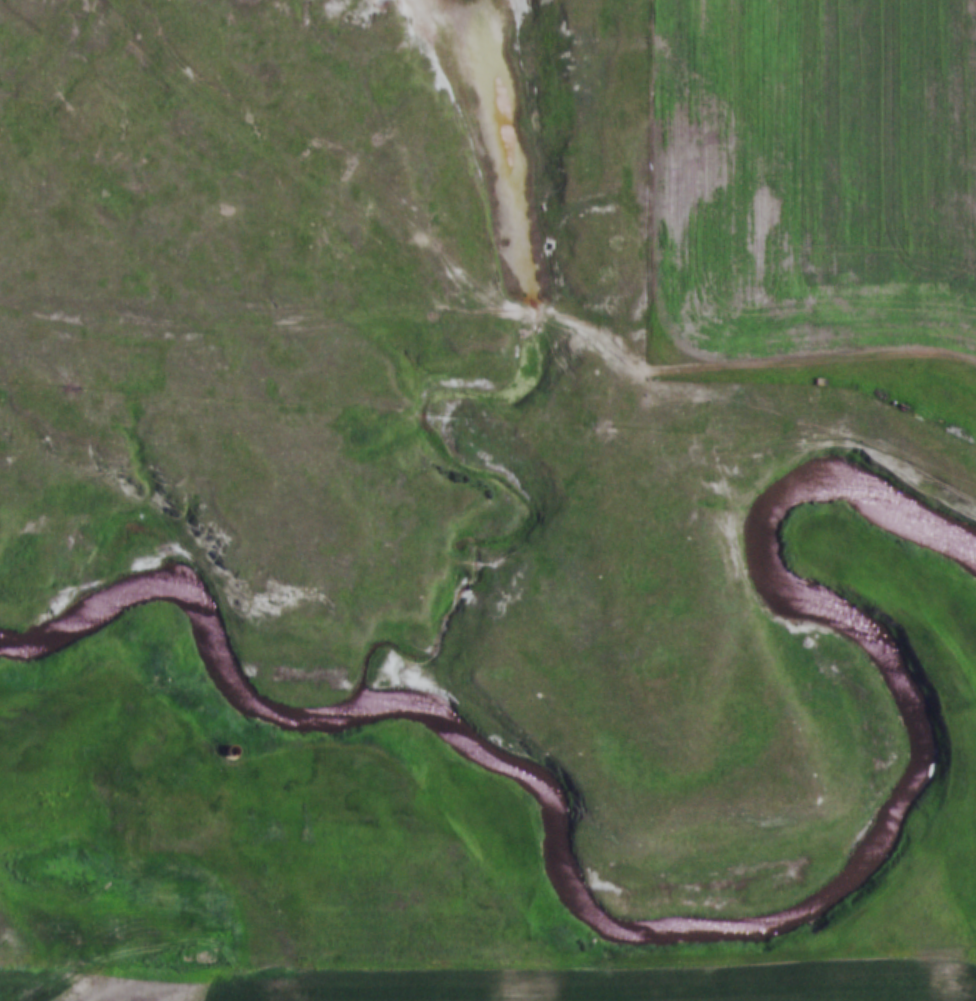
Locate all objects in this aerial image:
road: (133, 8)
road: (501, 307)

